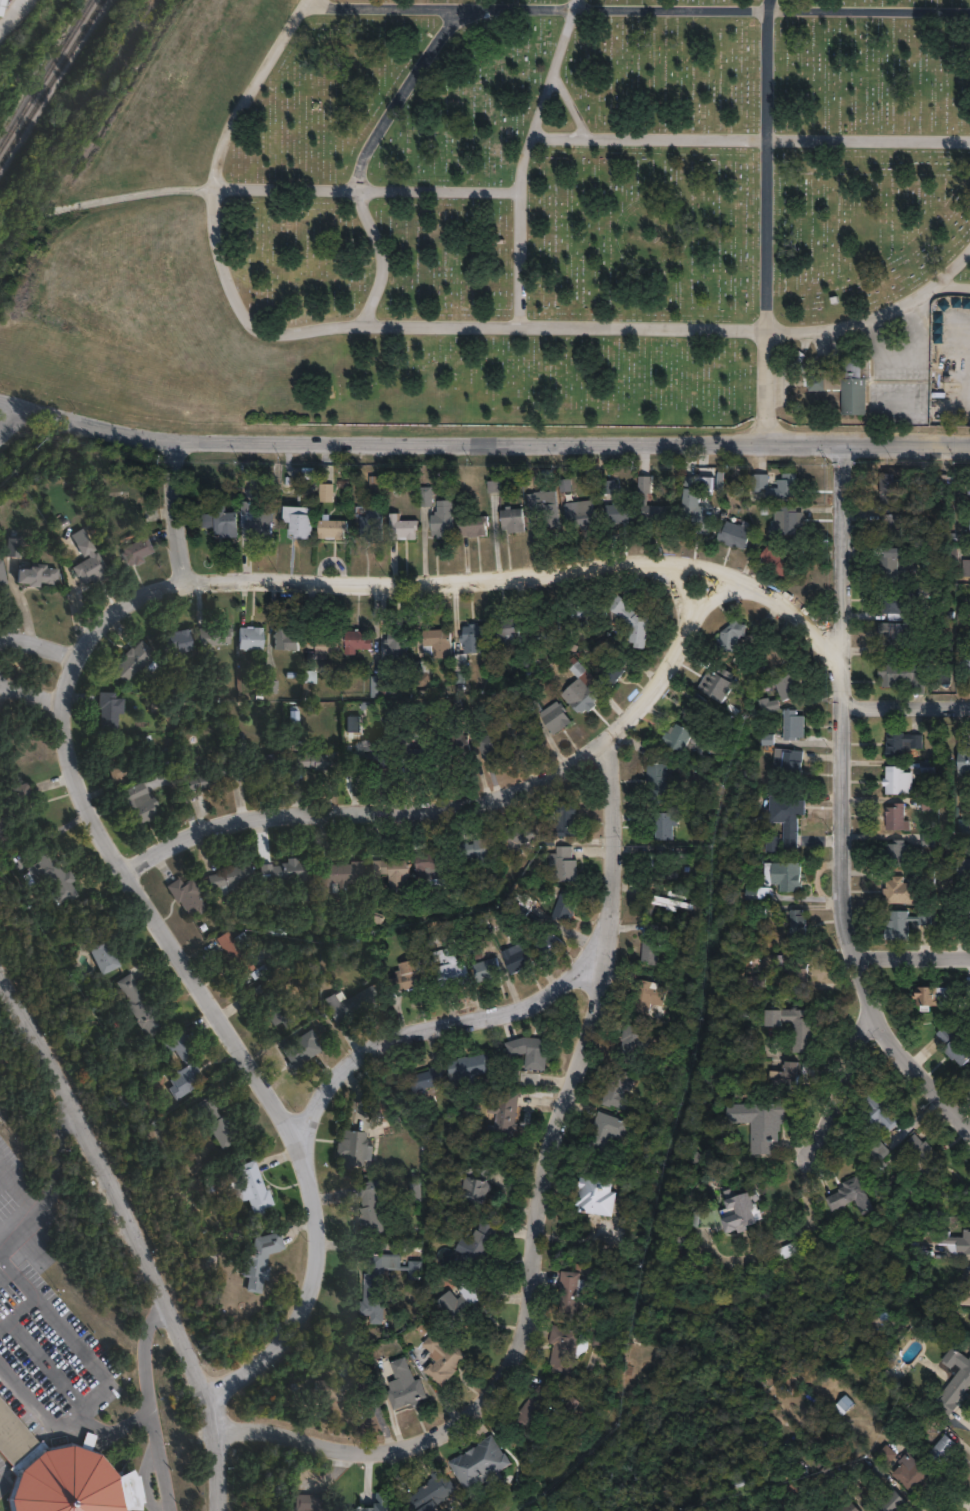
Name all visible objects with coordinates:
building: (4, 8)
road: (636, 8)
road: (11, 13)
railway: (60, 50)
railway: (52, 83)
road: (568, 104)
railway: (14, 124)
road: (752, 137)
road: (363, 155)
road: (527, 159)
road: (292, 185)
park: (521, 218)
road: (766, 221)
road: (952, 267)
road: (433, 324)
building: (815, 385)
building: (854, 391)
road: (6, 402)
road: (6, 411)
road: (489, 442)
building: (698, 480)
building: (922, 481)
building: (758, 484)
building: (374, 485)
building: (944, 487)
building: (968, 487)
building: (888, 488)
building: (323, 494)
building: (426, 497)
road: (164, 506)
building: (544, 508)
building: (694, 512)
building: (618, 513)
building: (656, 513)
building: (580, 514)
building: (513, 520)
building: (786, 520)
building: (219, 523)
building: (297, 523)
building: (368, 523)
building: (445, 523)
building: (258, 526)
building: (893, 526)
building: (474, 527)
building: (400, 528)
building: (330, 529)
building: (969, 529)
building: (736, 535)
building: (12, 551)
building: (132, 551)
building: (87, 562)
building: (776, 563)
building: (894, 565)
building: (966, 568)
building: (2, 578)
building: (36, 579)
building: (906, 604)
building: (584, 618)
building: (630, 625)
building: (542, 628)
building: (889, 633)
building: (906, 635)
building: (216, 636)
building: (507, 636)
building: (730, 640)
building: (359, 641)
building: (179, 642)
building: (330, 642)
building: (399, 643)
building: (472, 643)
building: (248, 644)
building: (285, 645)
road: (35, 646)
building: (942, 648)
building: (433, 655)
building: (770, 661)
building: (964, 661)
road: (67, 662)
building: (134, 662)
building: (461, 668)
building: (613, 673)
building: (906, 677)
building: (380, 685)
building: (789, 685)
road: (31, 695)
building: (580, 701)
road: (907, 701)
building: (769, 704)
building: (697, 708)
building: (111, 709)
building: (554, 722)
building: (794, 724)
building: (523, 731)
building: (678, 736)
building: (711, 741)
building: (460, 744)
building: (899, 744)
building: (494, 747)
building: (423, 750)
building: (124, 754)
building: (235, 756)
building: (370, 758)
building: (4, 760)
building: (317, 760)
building: (962, 762)
building: (261, 763)
building: (790, 764)
building: (658, 775)
building: (205, 779)
building: (895, 781)
road: (463, 794)
building: (139, 804)
road: (844, 806)
building: (13, 807)
building: (789, 816)
building: (896, 818)
building: (563, 822)
building: (666, 824)
building: (519, 838)
building: (771, 844)
building: (482, 850)
building: (898, 853)
building: (565, 864)
building: (434, 867)
building: (664, 867)
building: (962, 867)
building: (396, 873)
building: (341, 875)
building: (784, 875)
building: (50, 876)
building: (283, 876)
building: (226, 880)
building: (896, 889)
building: (761, 893)
building: (184, 898)
building: (675, 901)
building: (525, 904)
building: (566, 906)
building: (963, 911)
building: (799, 923)
building: (900, 924)
building: (442, 935)
building: (549, 942)
building: (653, 942)
building: (476, 948)
road: (910, 950)
building: (99, 955)
building: (237, 956)
building: (518, 957)
building: (797, 966)
building: (489, 968)
building: (453, 972)
building: (759, 978)
building: (410, 979)
building: (967, 990)
building: (650, 995)
building: (930, 998)
building: (271, 1002)
building: (351, 1004)
building: (135, 1013)
road: (419, 1022)
building: (798, 1026)
building: (634, 1043)
building: (302, 1049)
building: (956, 1049)
building: (528, 1050)
building: (470, 1068)
building: (178, 1072)
building: (429, 1078)
building: (787, 1079)
building: (620, 1089)
building: (877, 1111)
building: (508, 1115)
building: (212, 1119)
building: (758, 1129)
building: (601, 1133)
building: (355, 1149)
building: (878, 1151)
building: (923, 1158)
road: (807, 1172)
building: (948, 1180)
road: (22, 1181)
road: (50, 1184)
building: (250, 1186)
building: (476, 1192)
building: (597, 1194)
building: (852, 1195)
road: (535, 1197)
building: (373, 1205)
building: (740, 1208)
building: (448, 1227)
road: (133, 1239)
building: (956, 1239)
building: (476, 1252)
building: (781, 1259)
building: (257, 1268)
building: (382, 1288)
building: (966, 1288)
building: (573, 1292)
building: (464, 1311)
building: (651, 1335)
building: (570, 1347)
building: (442, 1365)
building: (898, 1376)
building: (957, 1386)
building: (339, 1392)
building: (403, 1392)
building: (539, 1407)
building: (846, 1408)
building: (915, 1411)
road: (81, 1416)
building: (946, 1450)
building: (479, 1458)
building: (889, 1458)
road: (156, 1462)
building: (62, 1474)
building: (833, 1475)
building: (915, 1476)
building: (432, 1493)
building: (306, 1502)
building: (381, 1503)
building: (894, 1503)
building: (851, 1507)
building: (805, 1510)
building: (808, 1510)

